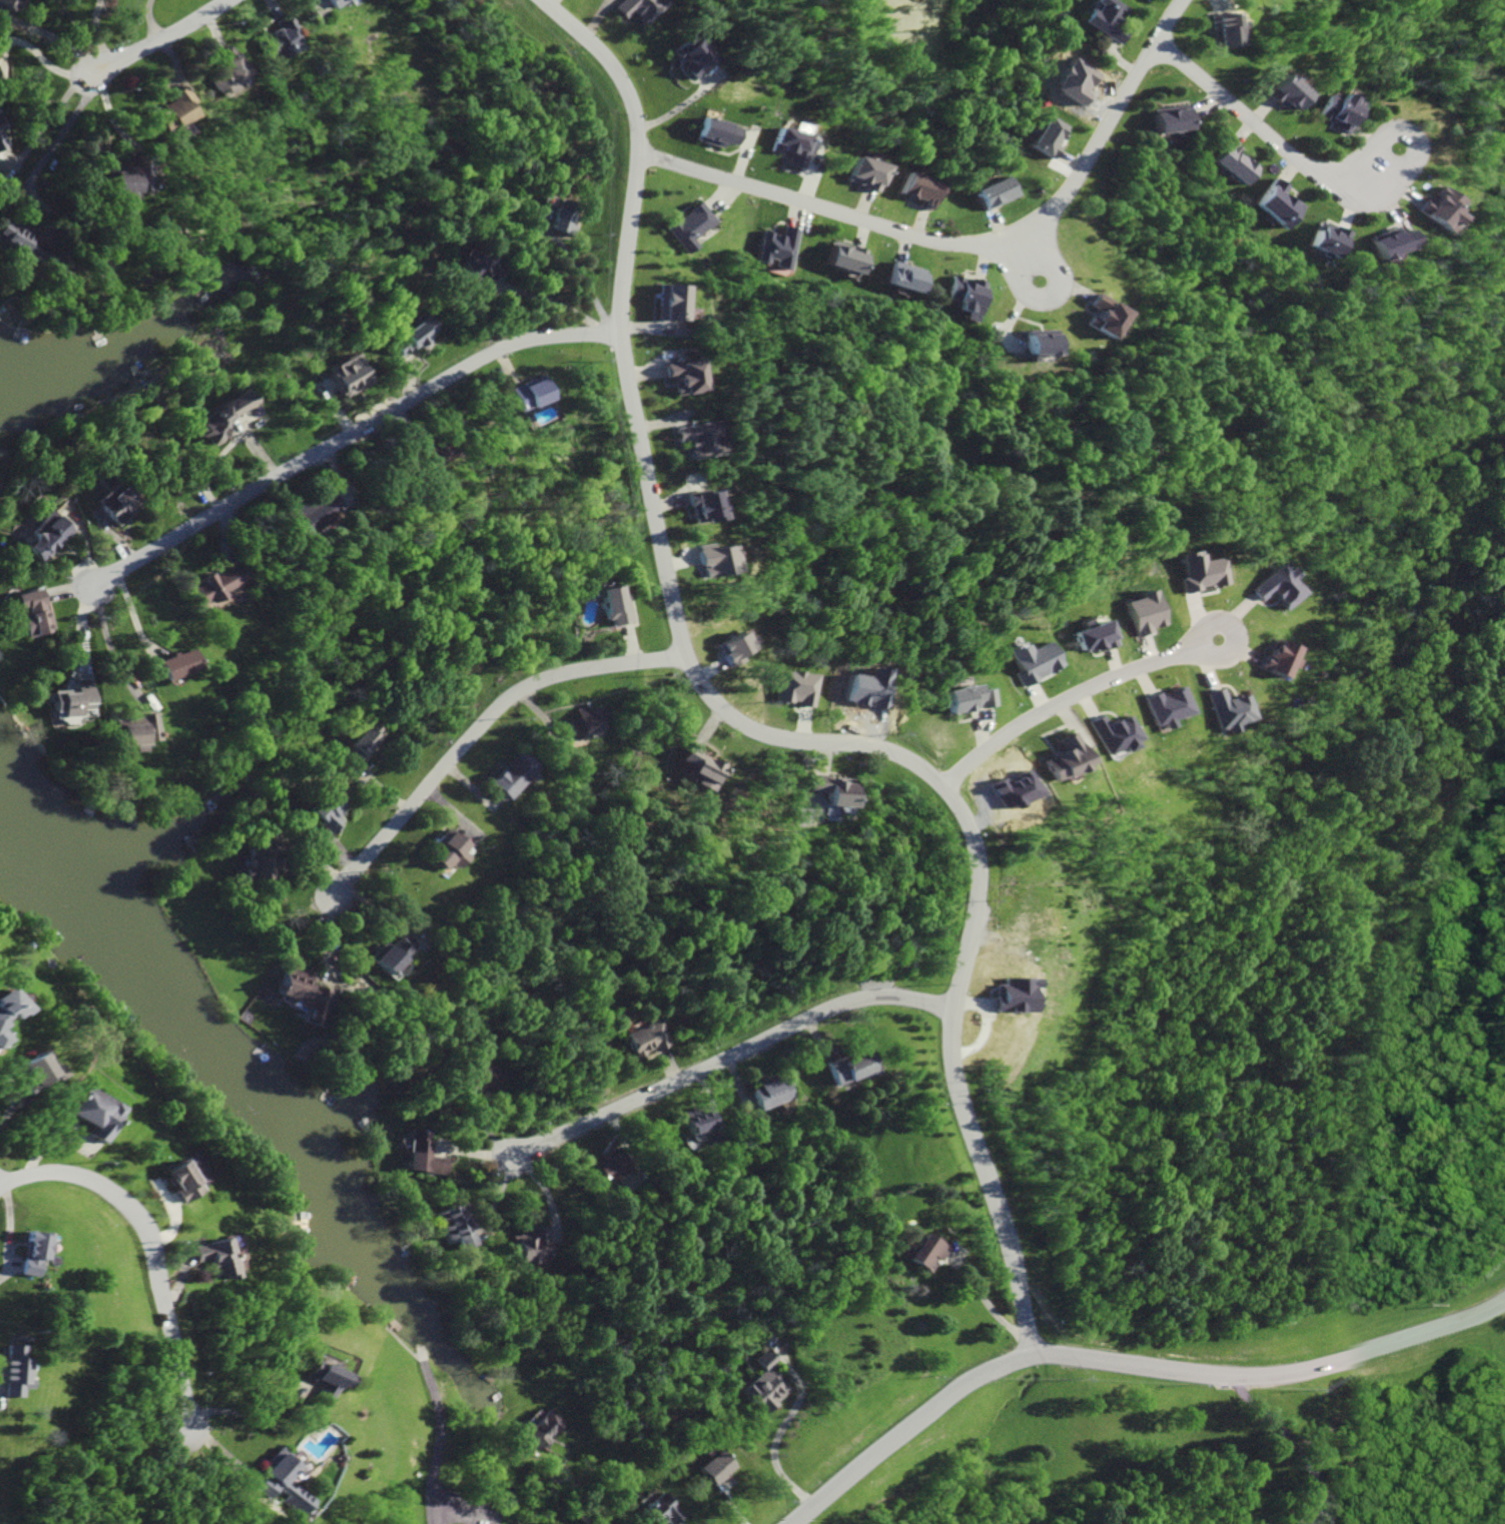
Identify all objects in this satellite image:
building: (329, 2)
building: (9, 5)
building: (636, 9)
building: (1105, 20)
building: (1221, 31)
road: (158, 38)
building: (272, 40)
road: (35, 56)
building: (687, 57)
building: (221, 72)
building: (1283, 94)
building: (1339, 112)
building: (169, 115)
building: (0, 119)
building: (1166, 120)
building: (717, 133)
road: (59, 137)
building: (1042, 138)
building: (2, 141)
building: (790, 147)
building: (1228, 164)
road: (1350, 164)
building: (860, 174)
building: (116, 184)
building: (916, 191)
building: (991, 194)
building: (1270, 206)
building: (1430, 211)
building: (560, 223)
building: (686, 228)
building: (1320, 240)
building: (20, 241)
road: (965, 244)
building: (1383, 244)
building: (769, 249)
building: (838, 259)
building: (477, 270)
building: (902, 278)
building: (964, 297)
road: (1040, 302)
building: (662, 304)
building: (1094, 317)
building: (410, 337)
building: (1032, 344)
building: (347, 376)
building: (675, 378)
building: (526, 395)
building: (223, 418)
road: (346, 433)
building: (690, 440)
building: (419, 452)
building: (113, 504)
building: (696, 508)
building: (309, 513)
building: (46, 535)
building: (709, 559)
building: (1196, 571)
building: (208, 584)
building: (1276, 587)
building: (610, 605)
building: (1139, 612)
building: (32, 613)
building: (1088, 636)
road: (108, 644)
building: (727, 644)
road: (1209, 657)
building: (1028, 661)
building: (1272, 661)
building: (172, 664)
building: (791, 688)
building: (70, 699)
building: (963, 699)
road: (1060, 699)
building: (1159, 706)
building: (1215, 708)
building: (583, 720)
road: (477, 724)
road: (751, 727)
building: (132, 730)
building: (1107, 734)
building: (360, 744)
building: (1055, 759)
building: (699, 768)
building: (505, 777)
building: (830, 790)
building: (324, 812)
building: (438, 850)
building: (385, 954)
building: (298, 993)
building: (1004, 995)
building: (3, 1005)
building: (644, 1039)
road: (729, 1055)
building: (850, 1066)
building: (23, 1067)
building: (482, 1076)
building: (767, 1093)
building: (76, 1113)
building: (694, 1121)
building: (423, 1155)
building: (608, 1167)
building: (161, 1181)
building: (453, 1227)
building: (524, 1248)
building: (16, 1253)
building: (923, 1253)
road: (140, 1255)
building: (201, 1258)
road: (986, 1307)
building: (5, 1372)
road: (1275, 1376)
building: (320, 1381)
building: (761, 1384)
road: (246, 1418)
road: (906, 1427)
building: (540, 1430)
road: (780, 1431)
road: (1285, 1437)
building: (714, 1469)
building: (266, 1478)
road: (578, 1502)
building: (660, 1511)

